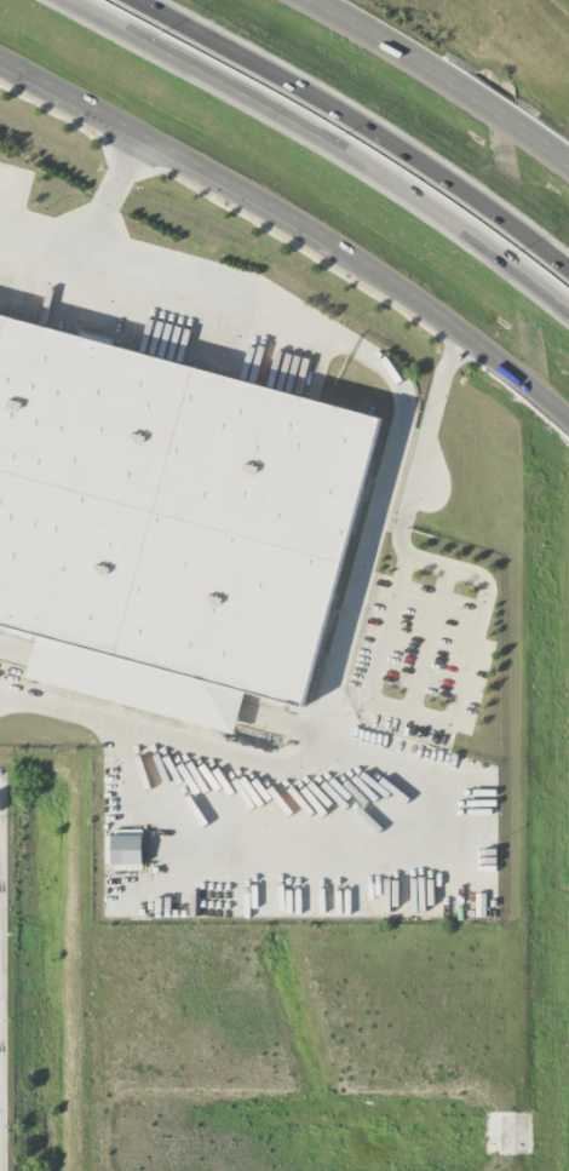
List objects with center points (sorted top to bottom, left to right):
road: (441, 79)
road: (357, 124)
road: (324, 140)
road: (122, 172)
road: (295, 224)
road: (93, 231)
road: (176, 289)
building: (172, 510)
road: (327, 696)

